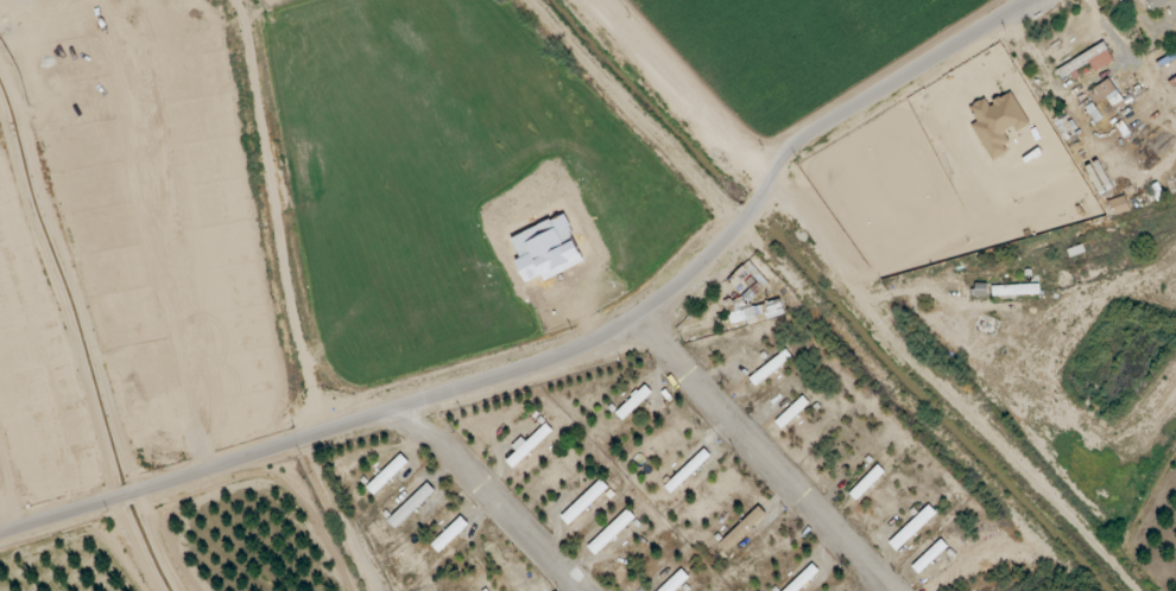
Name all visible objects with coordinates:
building: (1155, 4)
building: (1087, 62)
road: (679, 93)
building: (1105, 94)
building: (1098, 177)
building: (1118, 205)
road: (276, 217)
building: (1014, 290)
road: (925, 292)
building: (751, 311)
road: (567, 354)
building: (770, 368)
road: (946, 392)
building: (633, 402)
building: (791, 413)
building: (529, 444)
building: (687, 471)
building: (386, 475)
building: (866, 483)
road: (492, 498)
building: (583, 502)
building: (410, 506)
building: (911, 528)
building: (742, 529)
building: (611, 532)
building: (449, 535)
building: (929, 557)
building: (802, 579)

